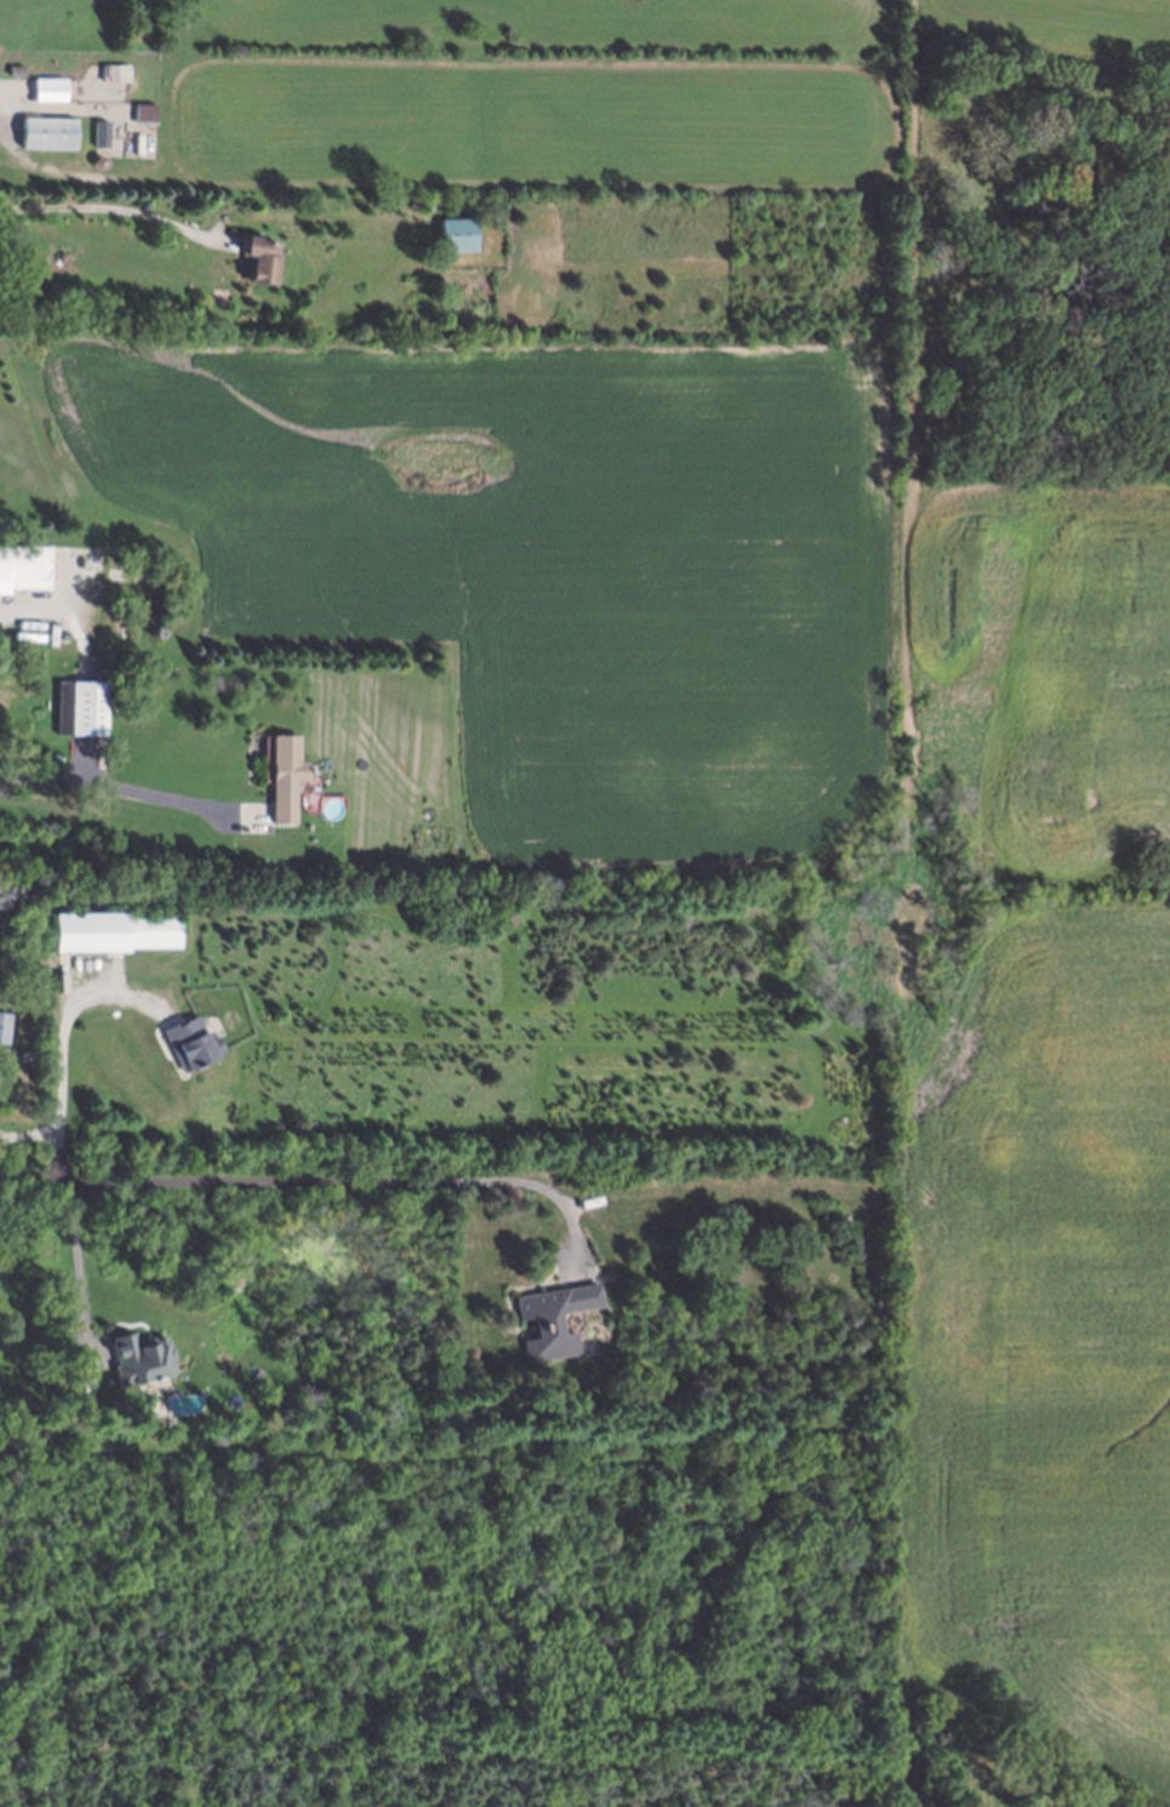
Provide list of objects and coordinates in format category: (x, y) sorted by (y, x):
building: (50, 90)
road: (32, 104)
building: (145, 113)
building: (101, 133)
building: (48, 136)
road: (119, 209)
building: (458, 235)
building: (261, 258)
building: (24, 568)
building: (82, 708)
building: (284, 777)
road: (112, 785)
building: (113, 933)
building: (4, 1027)
road: (62, 1043)
building: (190, 1043)
road: (29, 1131)
road: (308, 1178)
road: (78, 1261)
building: (553, 1319)
building: (141, 1358)

